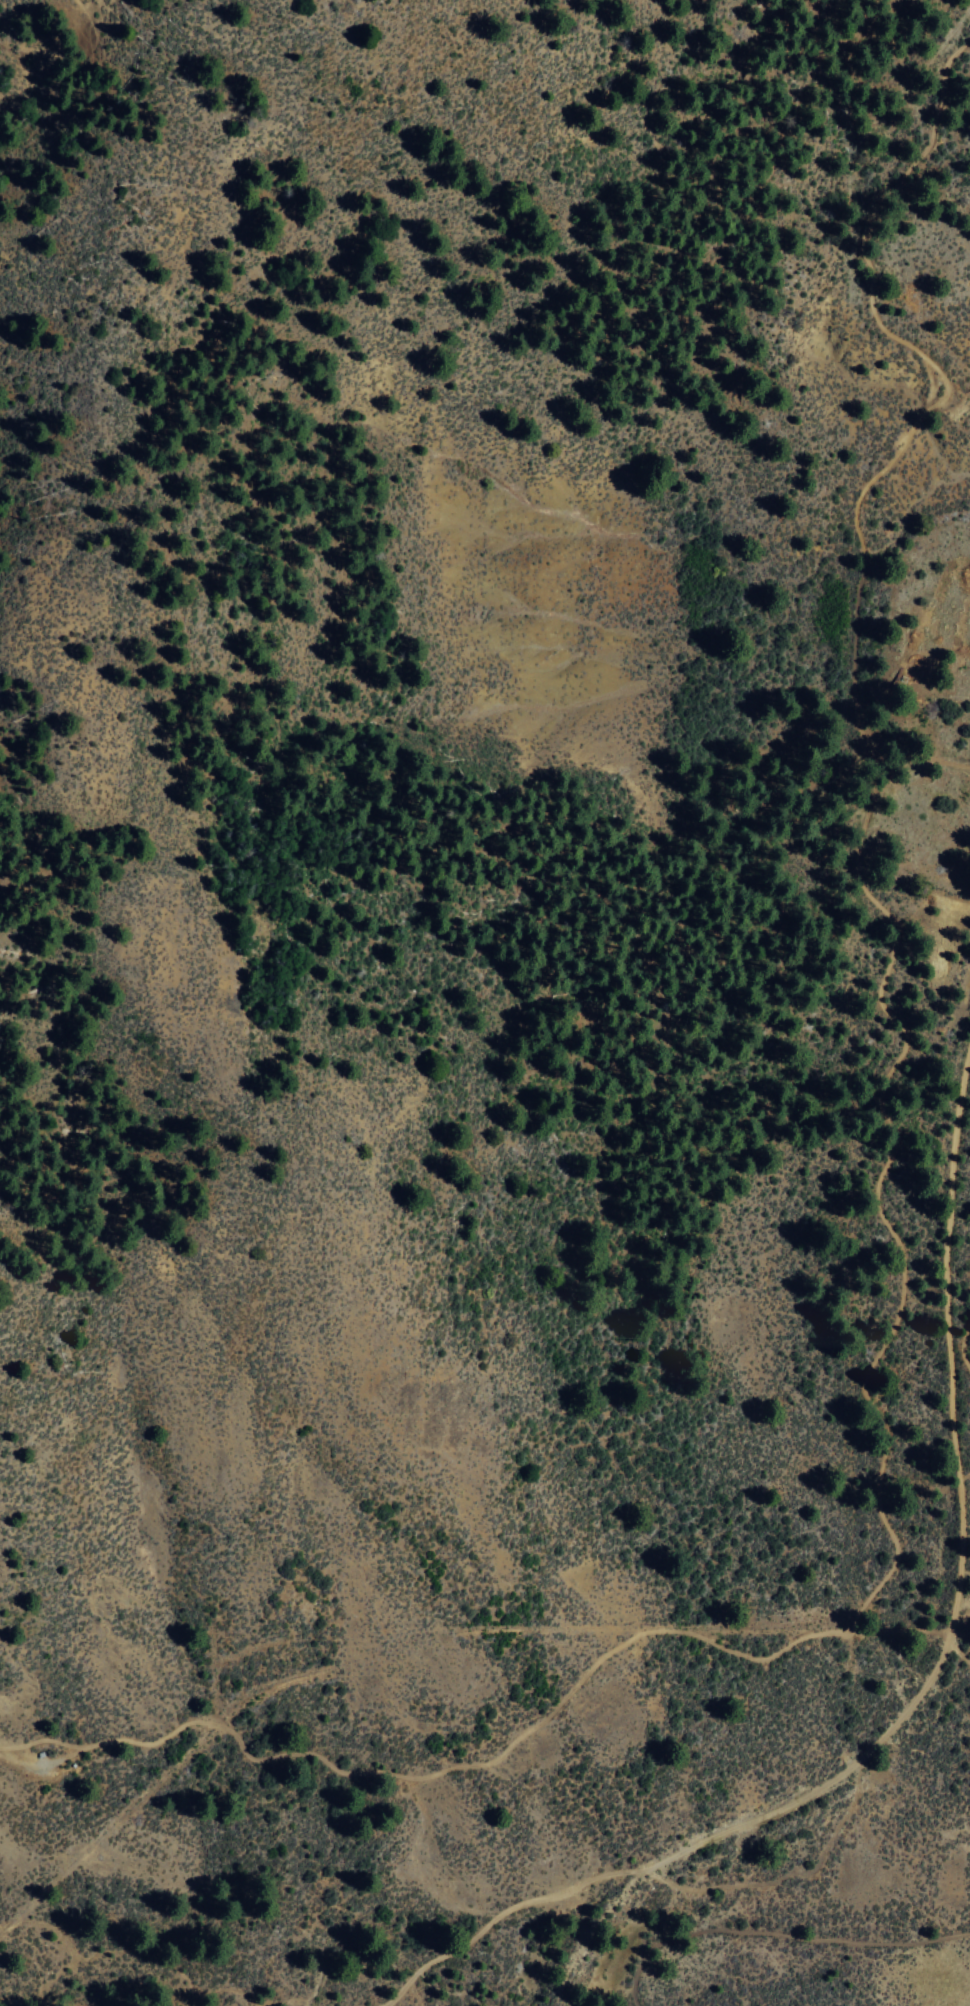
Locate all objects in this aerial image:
road: (875, 473)
road: (917, 754)
crop: (900, 842)
road: (960, 1345)
road: (745, 1656)
road: (927, 1679)
road: (786, 1874)
road: (772, 1932)
road: (17, 2002)

